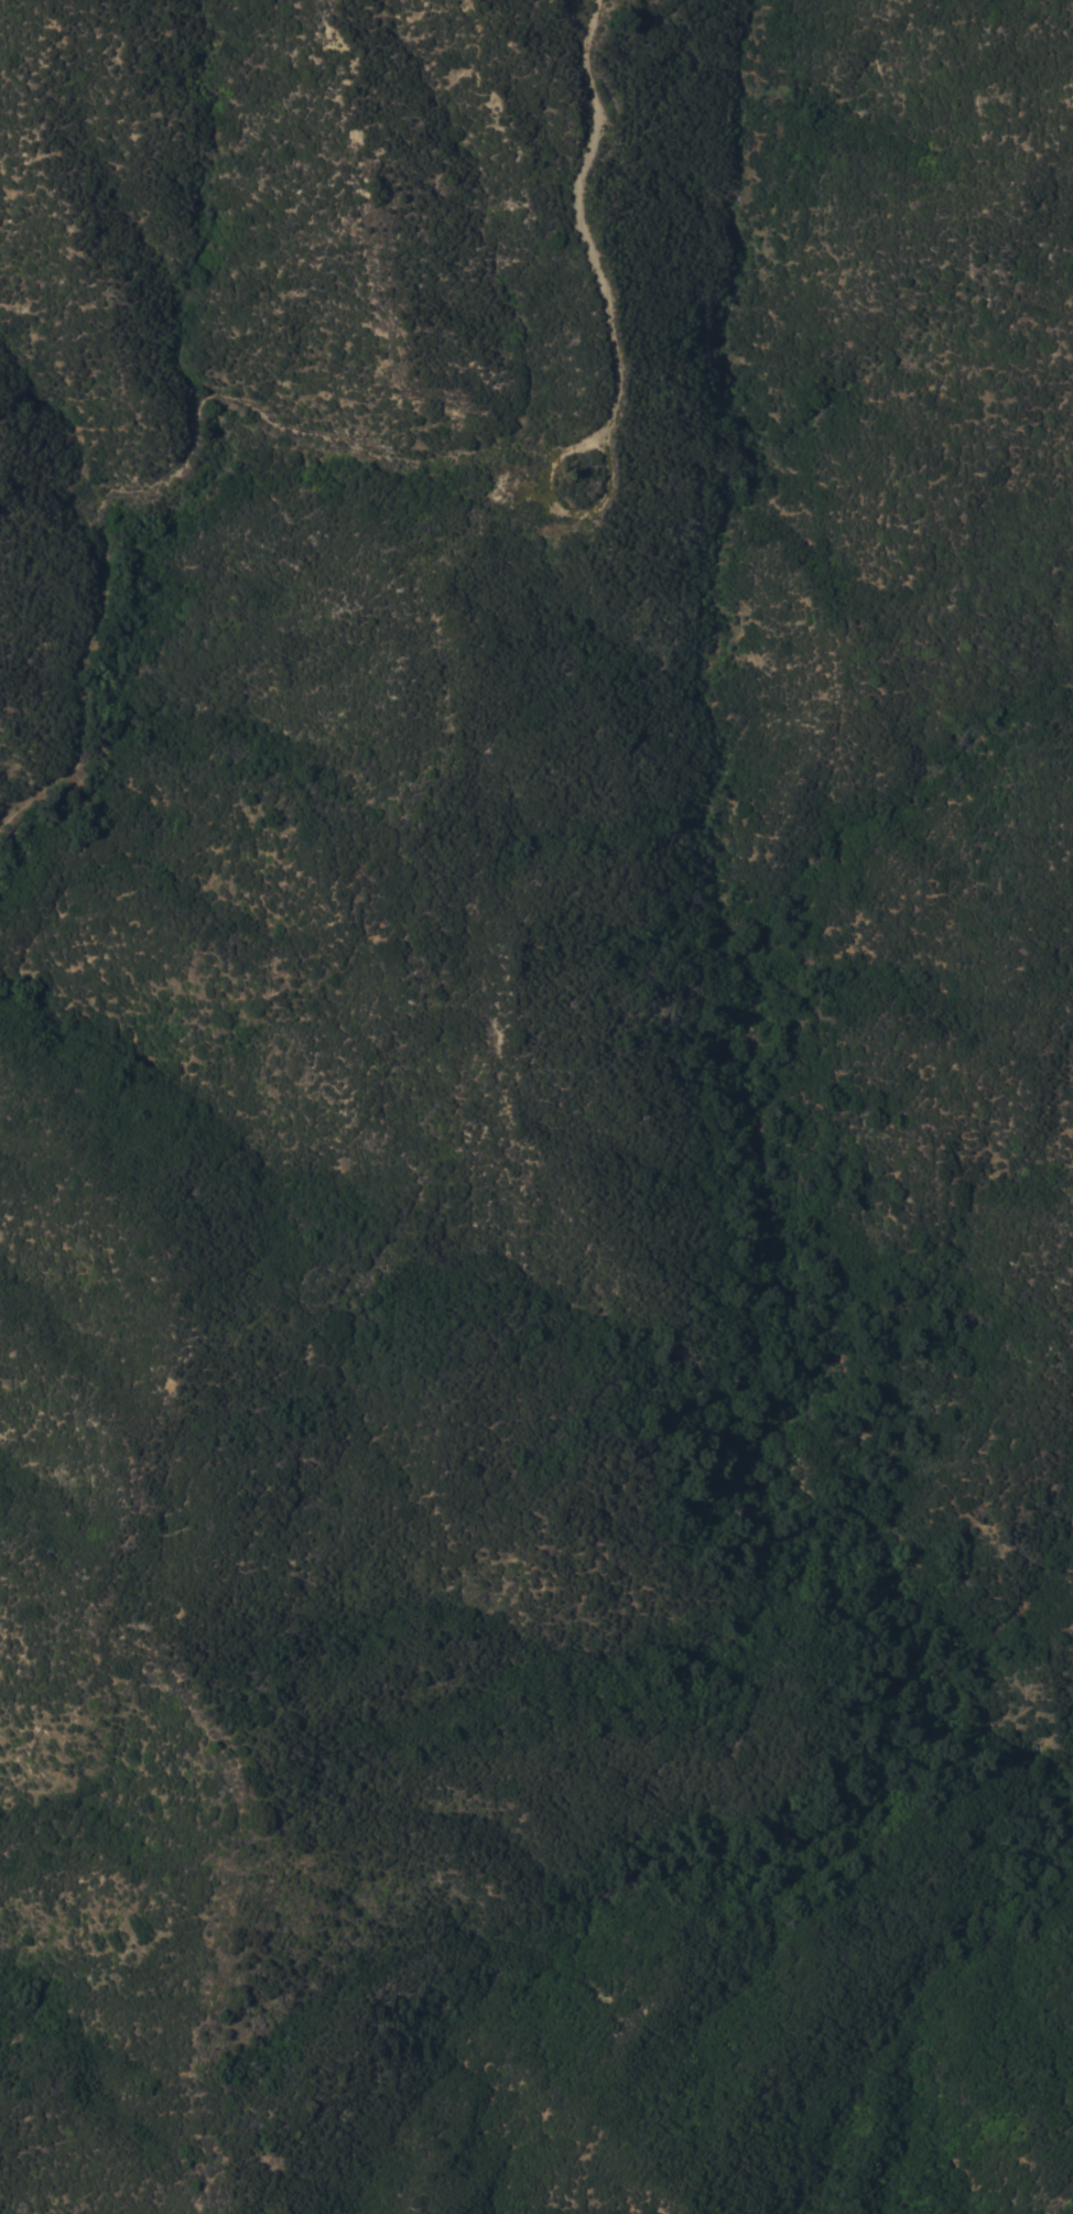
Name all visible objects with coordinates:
road: (340, 430)

